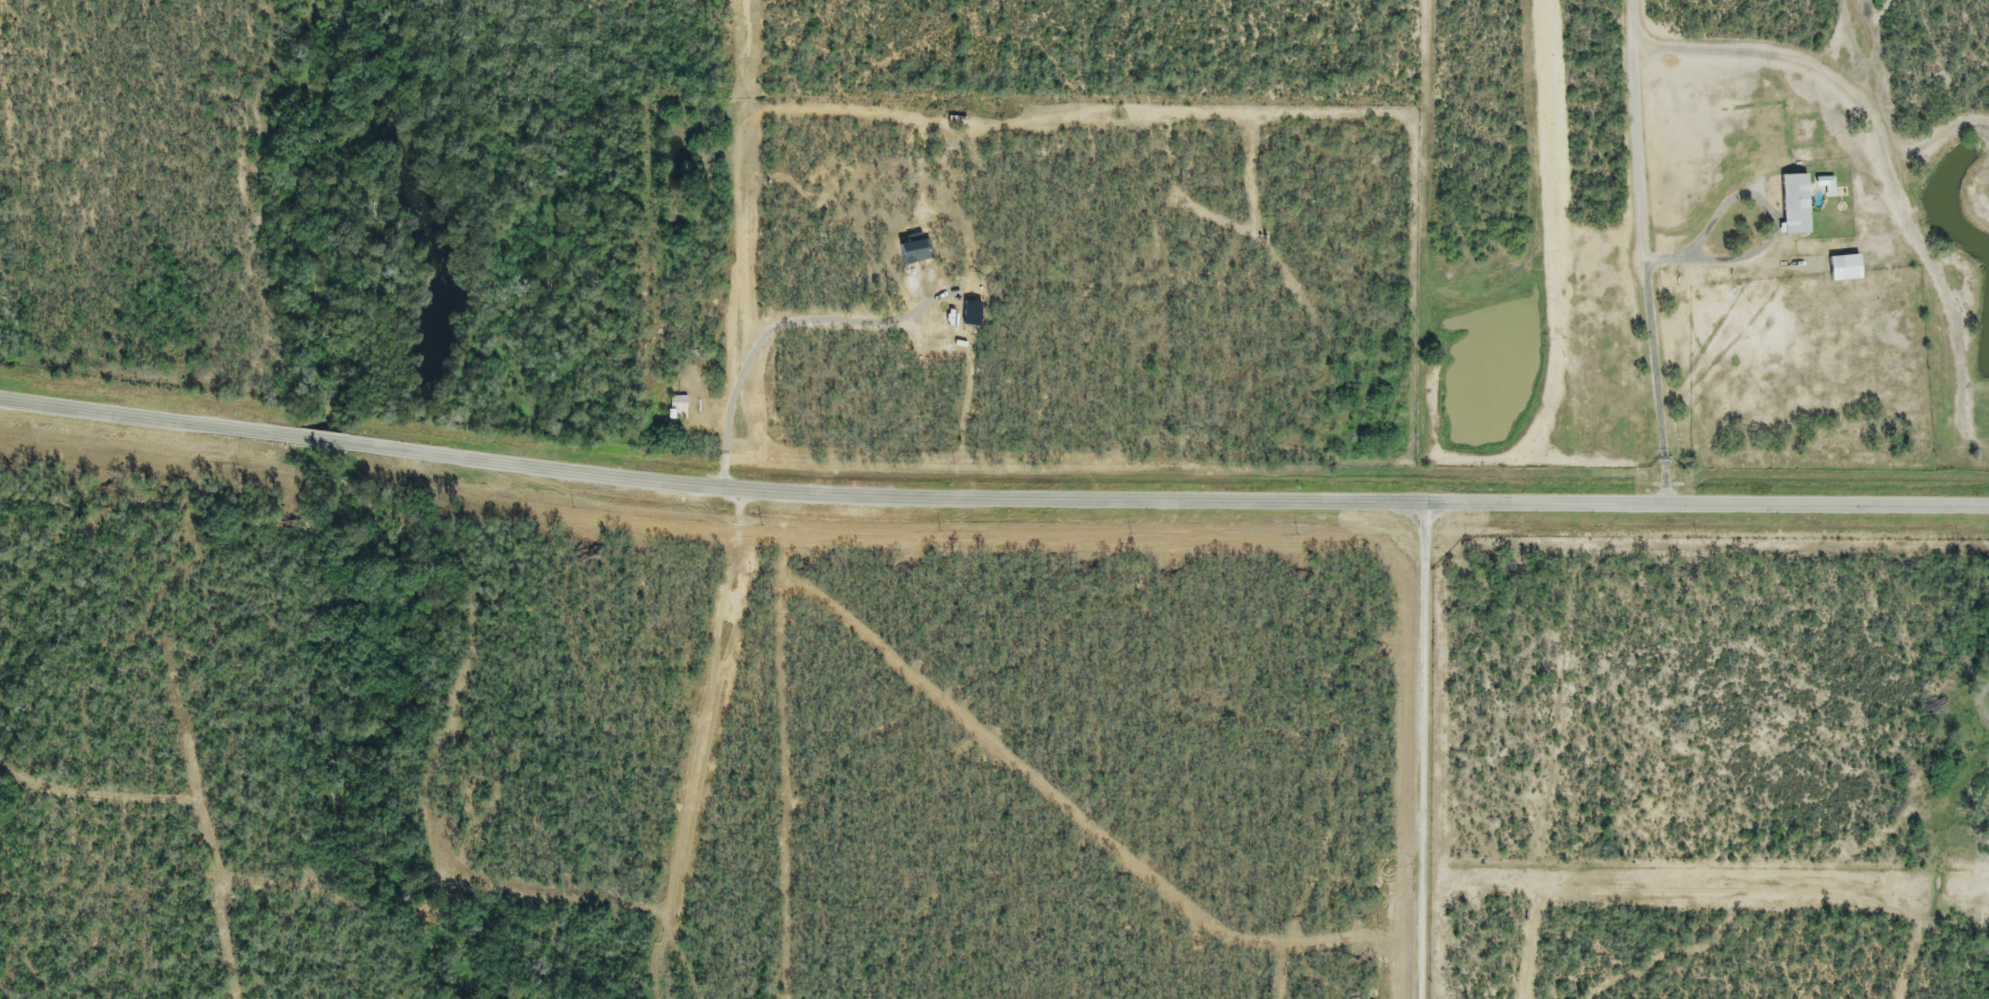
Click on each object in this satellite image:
building: (1794, 205)
road: (1769, 234)
road: (1644, 248)
road: (152, 420)
road: (327, 443)
road: (1167, 489)
road: (1424, 745)

